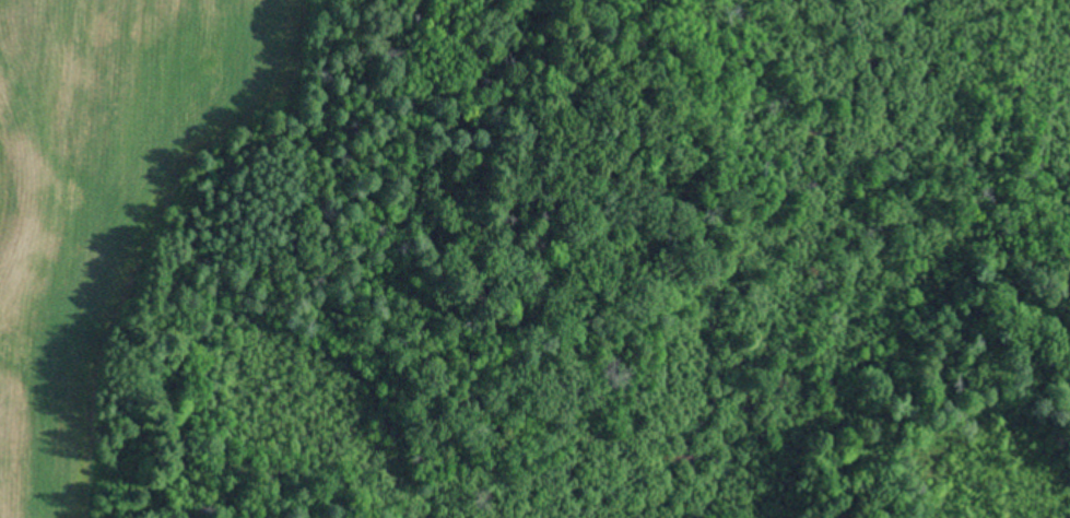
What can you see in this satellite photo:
river: (763, 273)

